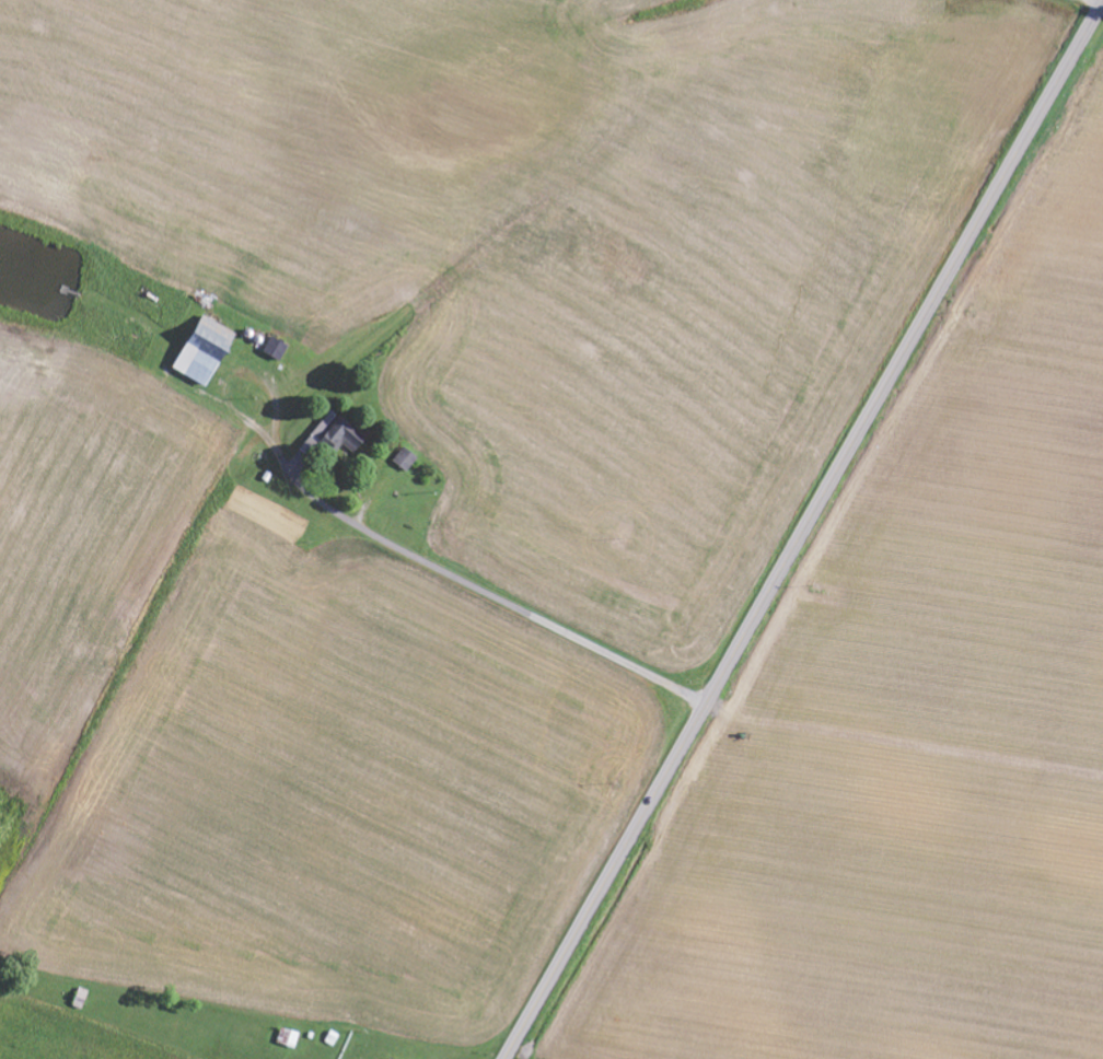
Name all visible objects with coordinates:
building: (277, 349)
building: (206, 351)
building: (336, 435)
building: (407, 459)
road: (803, 532)
road: (534, 619)
building: (78, 992)
building: (286, 1031)
building: (329, 1032)
building: (290, 1038)
building: (392, 1056)

